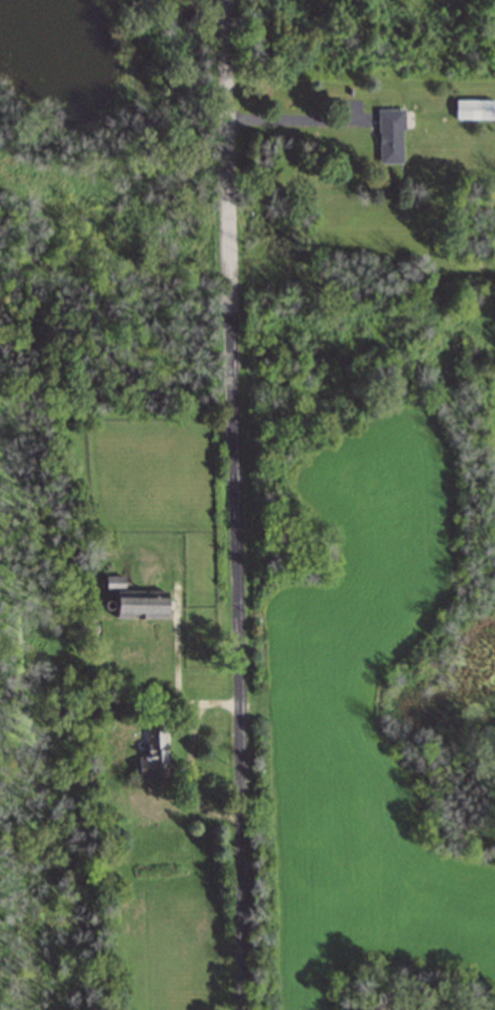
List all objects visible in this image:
building: (474, 111)
road: (294, 120)
building: (390, 135)
park: (375, 504)
road: (235, 505)
building: (144, 606)
building: (154, 757)

